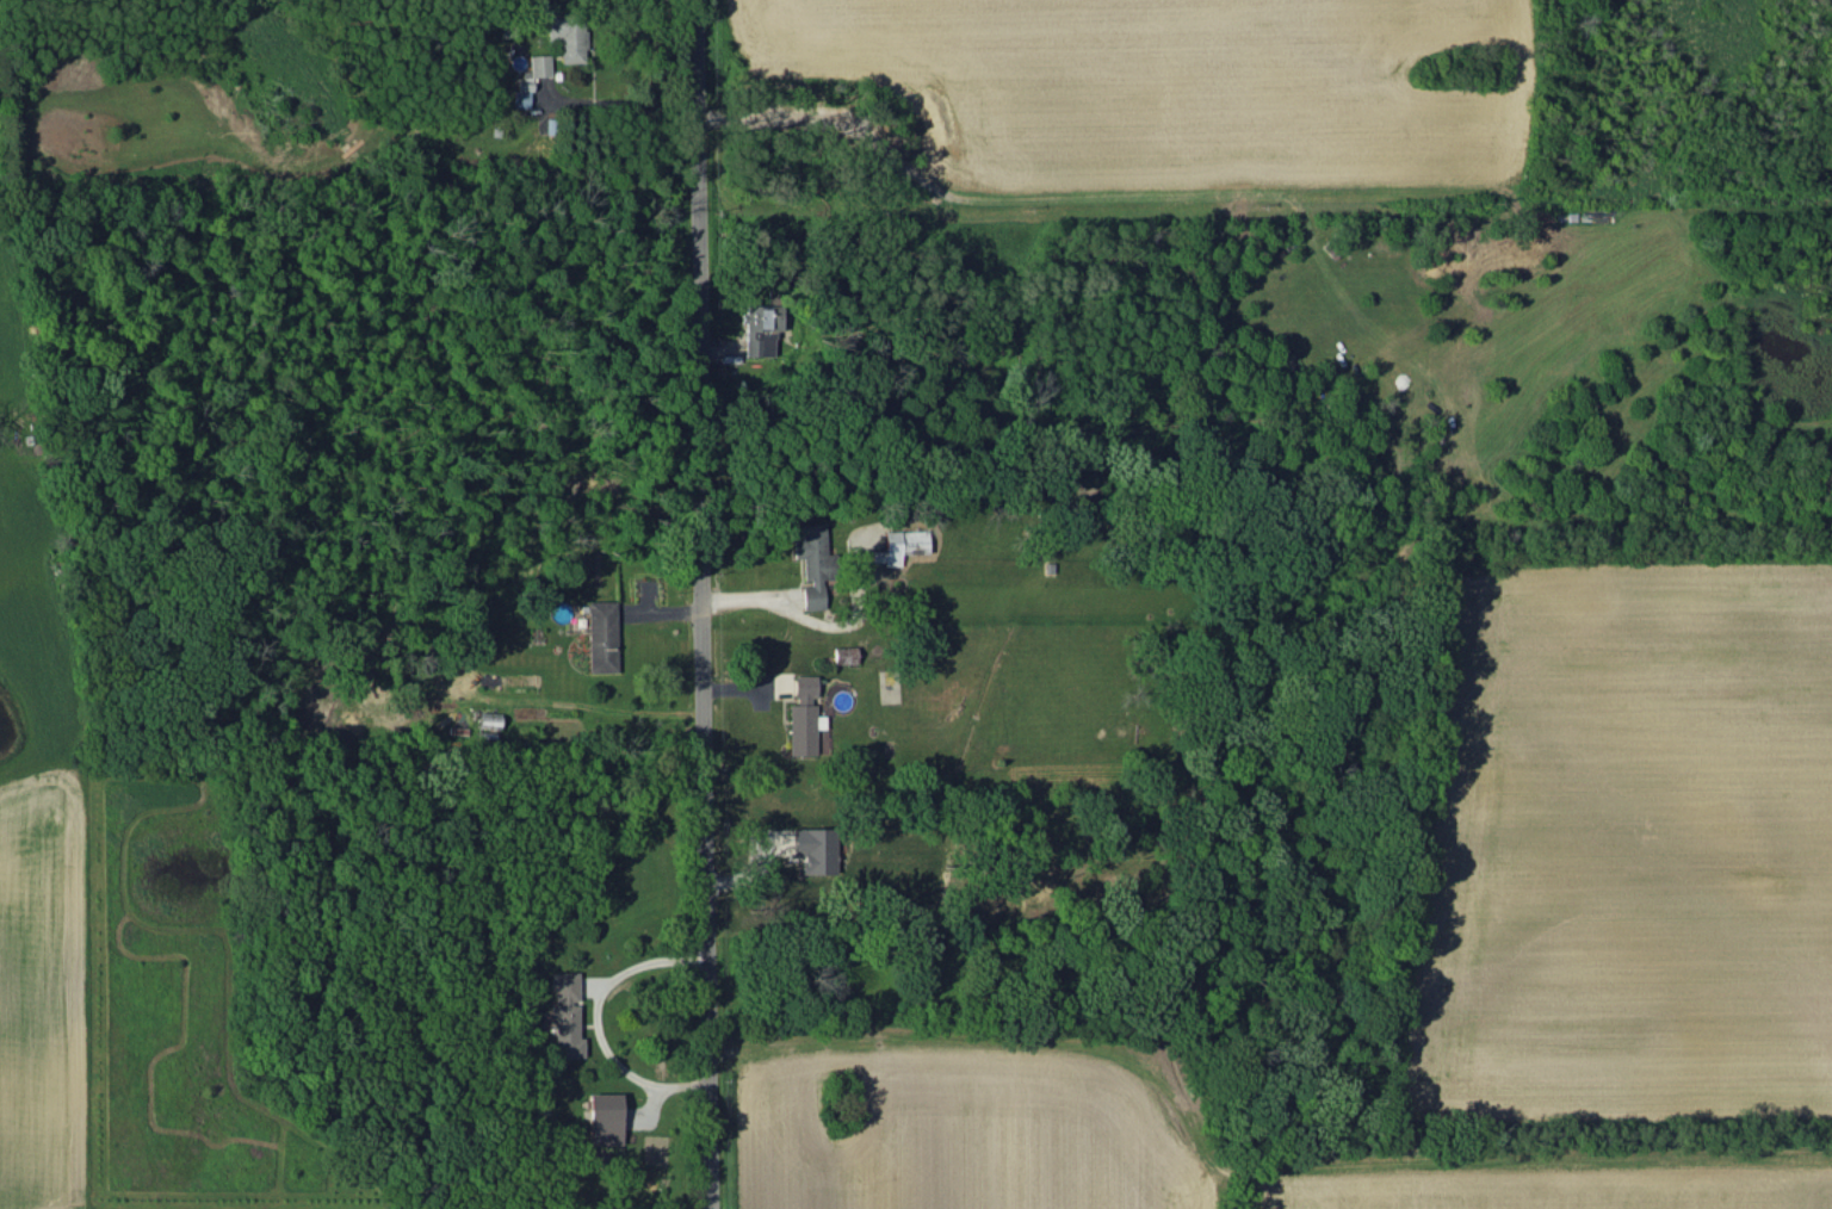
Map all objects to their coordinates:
building: (568, 36)
building: (538, 64)
building: (520, 98)
road: (612, 104)
building: (759, 328)
building: (903, 544)
building: (812, 562)
road: (697, 604)
building: (600, 635)
building: (843, 653)
building: (803, 715)
building: (821, 739)
building: (815, 849)
building: (564, 1013)
road: (594, 1018)
building: (604, 1118)

